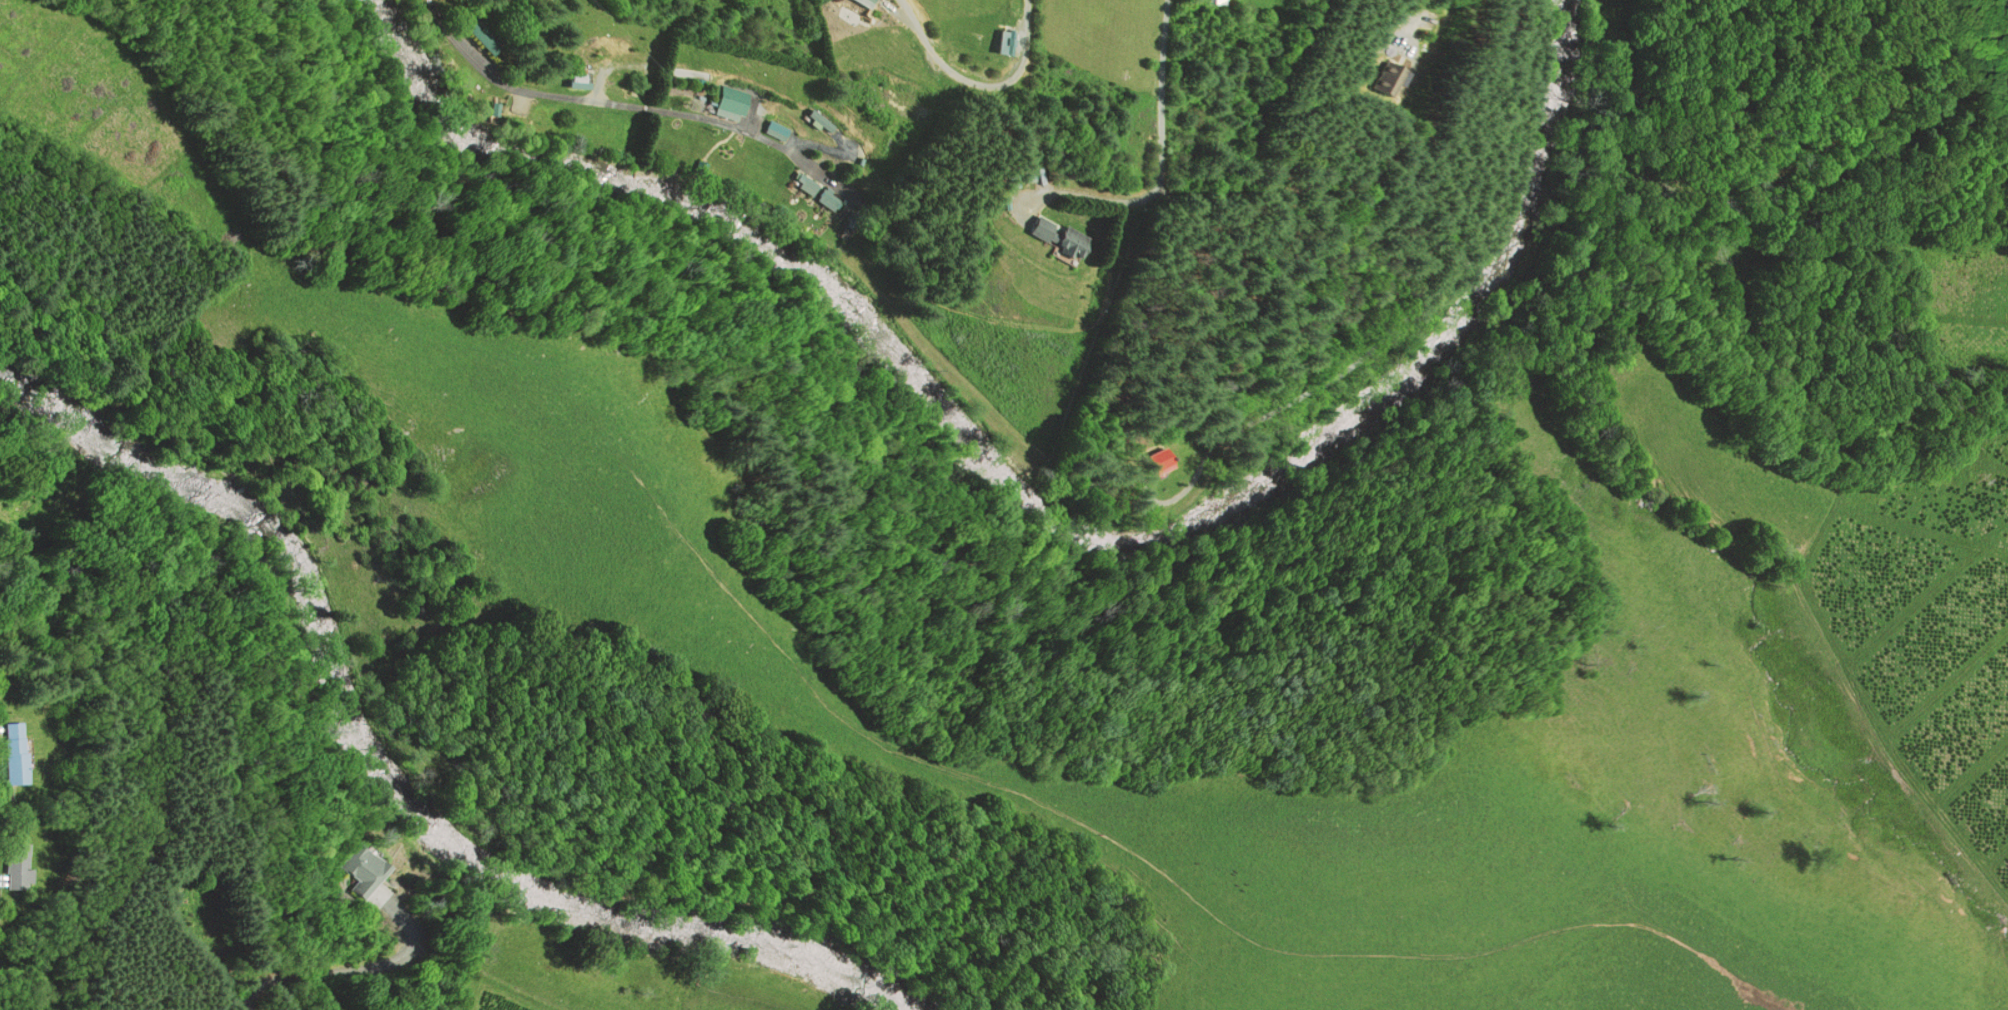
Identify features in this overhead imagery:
building: (859, 3)
building: (1215, 3)
building: (575, 78)
building: (1381, 80)
road: (977, 81)
road: (622, 103)
building: (730, 103)
road: (1248, 120)
building: (816, 122)
building: (776, 130)
road: (1160, 146)
building: (828, 199)
building: (1036, 229)
building: (1064, 243)
road: (894, 302)
road: (1341, 374)
building: (1161, 462)
river: (1042, 470)
building: (16, 751)
river: (404, 775)
building: (19, 865)
building: (368, 871)

